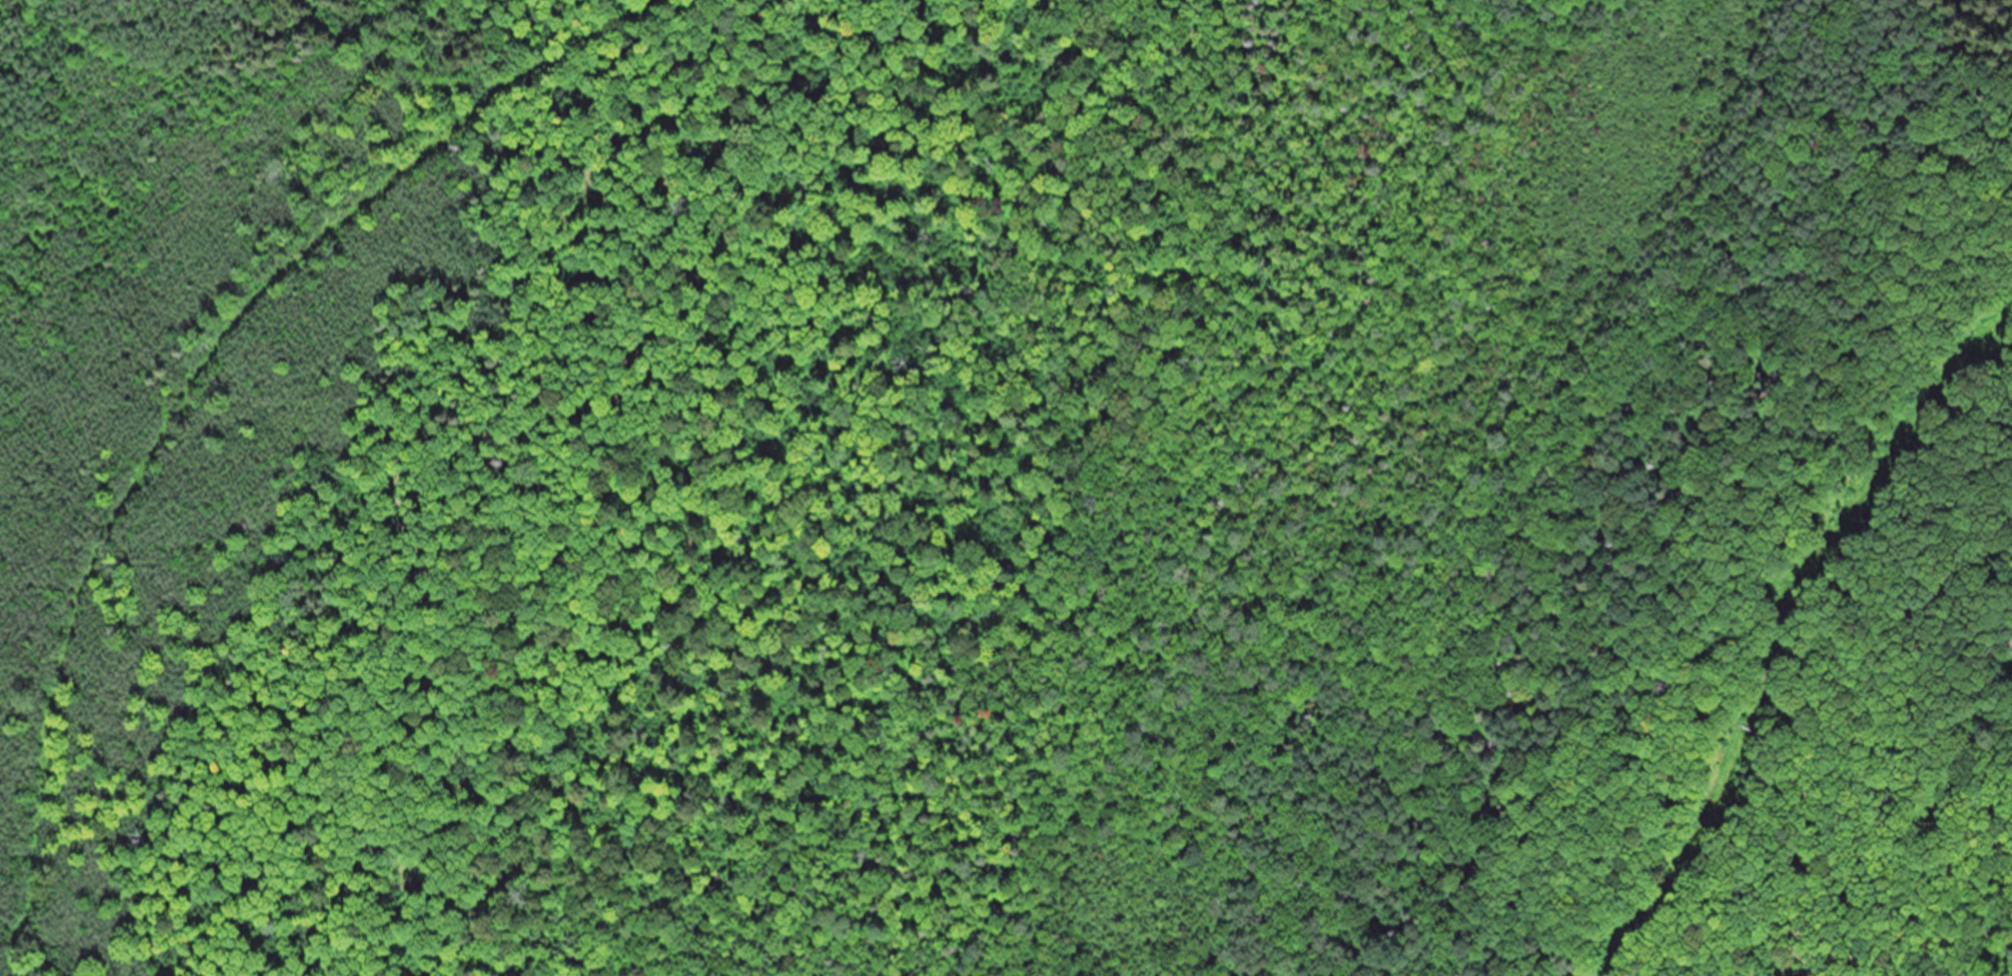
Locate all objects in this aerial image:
road: (1791, 634)

